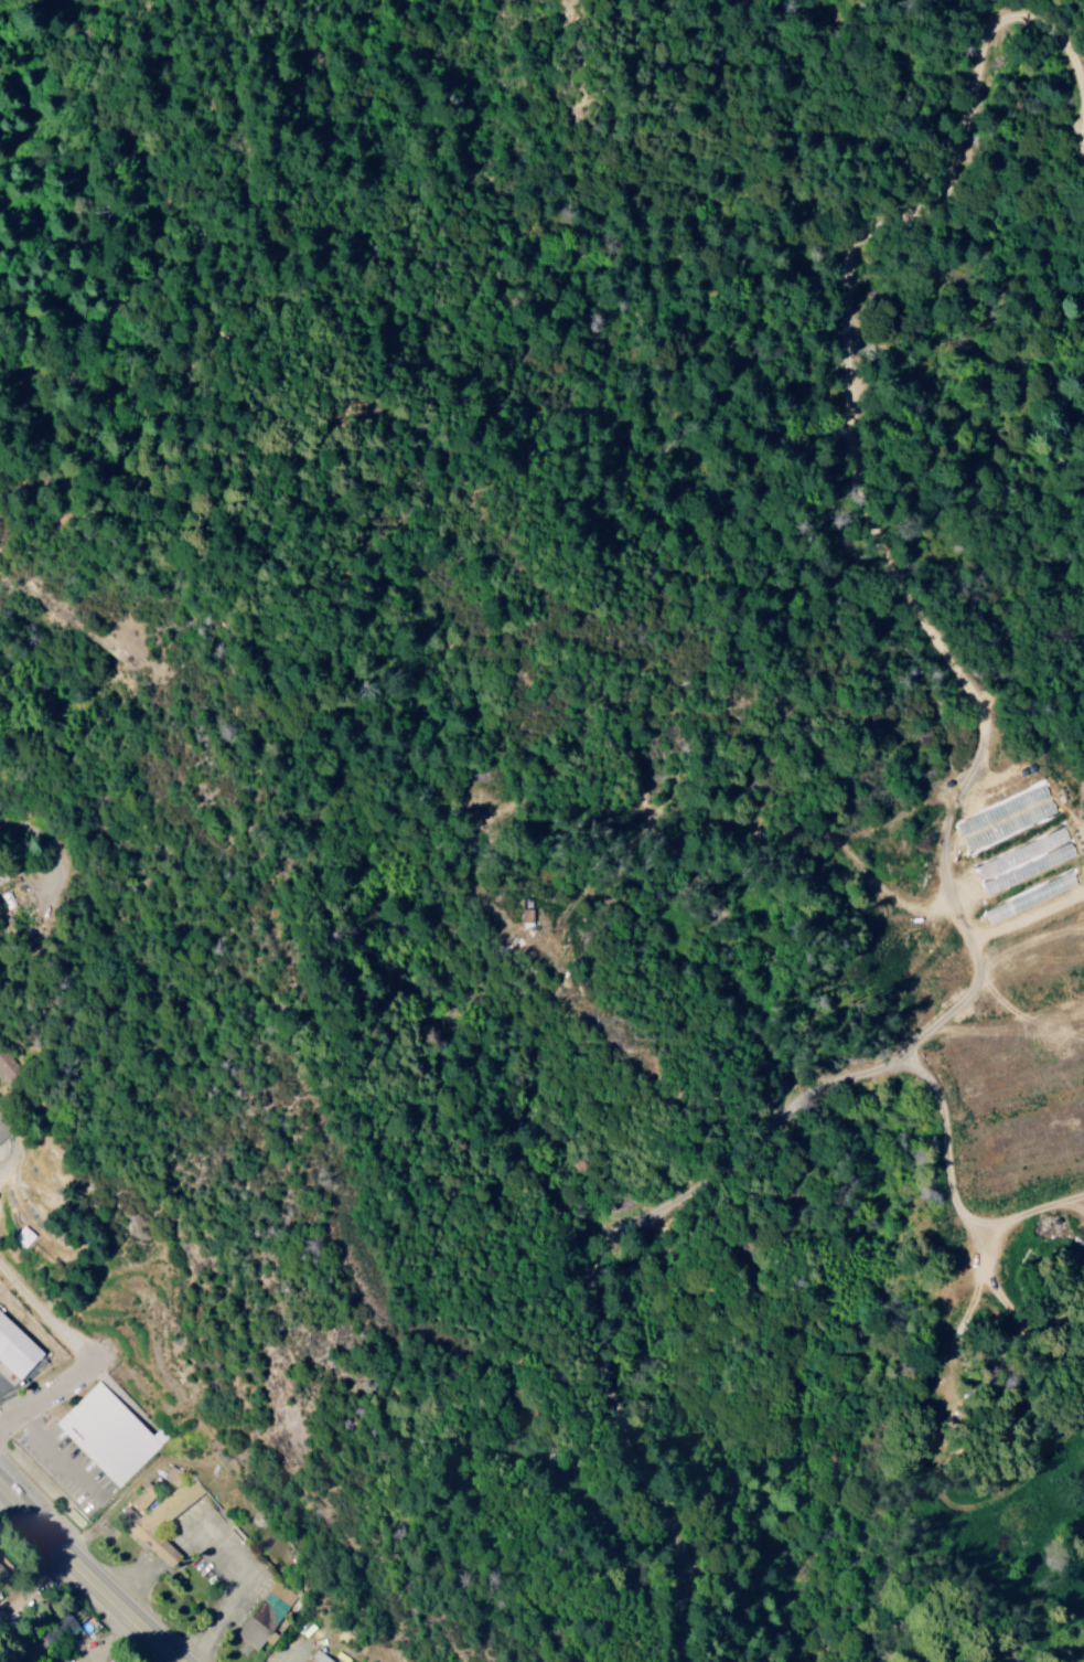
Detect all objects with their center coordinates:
building: (1030, 849)
building: (528, 917)
building: (0, 1140)
road: (20, 1155)
building: (18, 1346)
building: (109, 1434)
building: (143, 1498)
building: (168, 1501)
road: (89, 1575)
road: (32, 1585)
building: (266, 1612)
building: (321, 1655)

